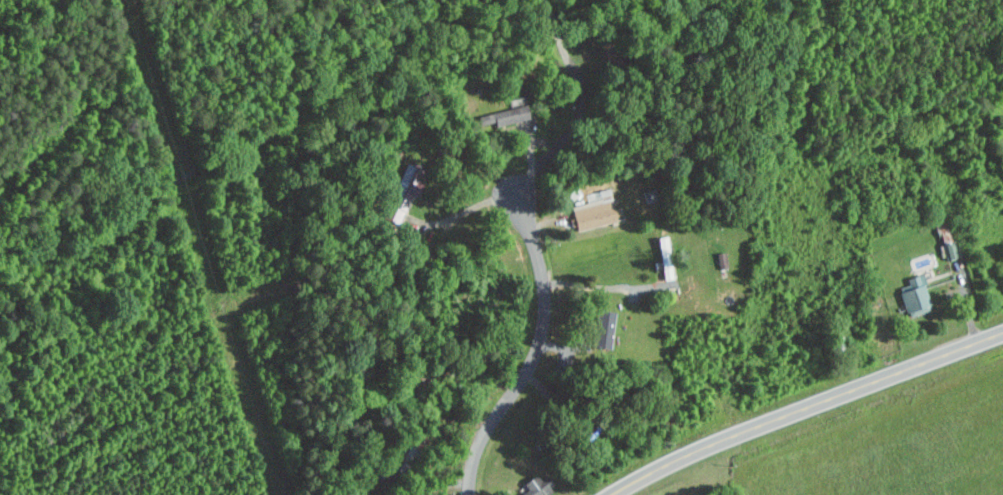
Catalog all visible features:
road: (583, 107)
building: (505, 115)
building: (404, 190)
road: (467, 209)
building: (595, 213)
building: (949, 249)
road: (540, 264)
road: (604, 286)
building: (913, 295)
building: (601, 330)
road: (806, 406)
road: (498, 411)
building: (534, 485)

